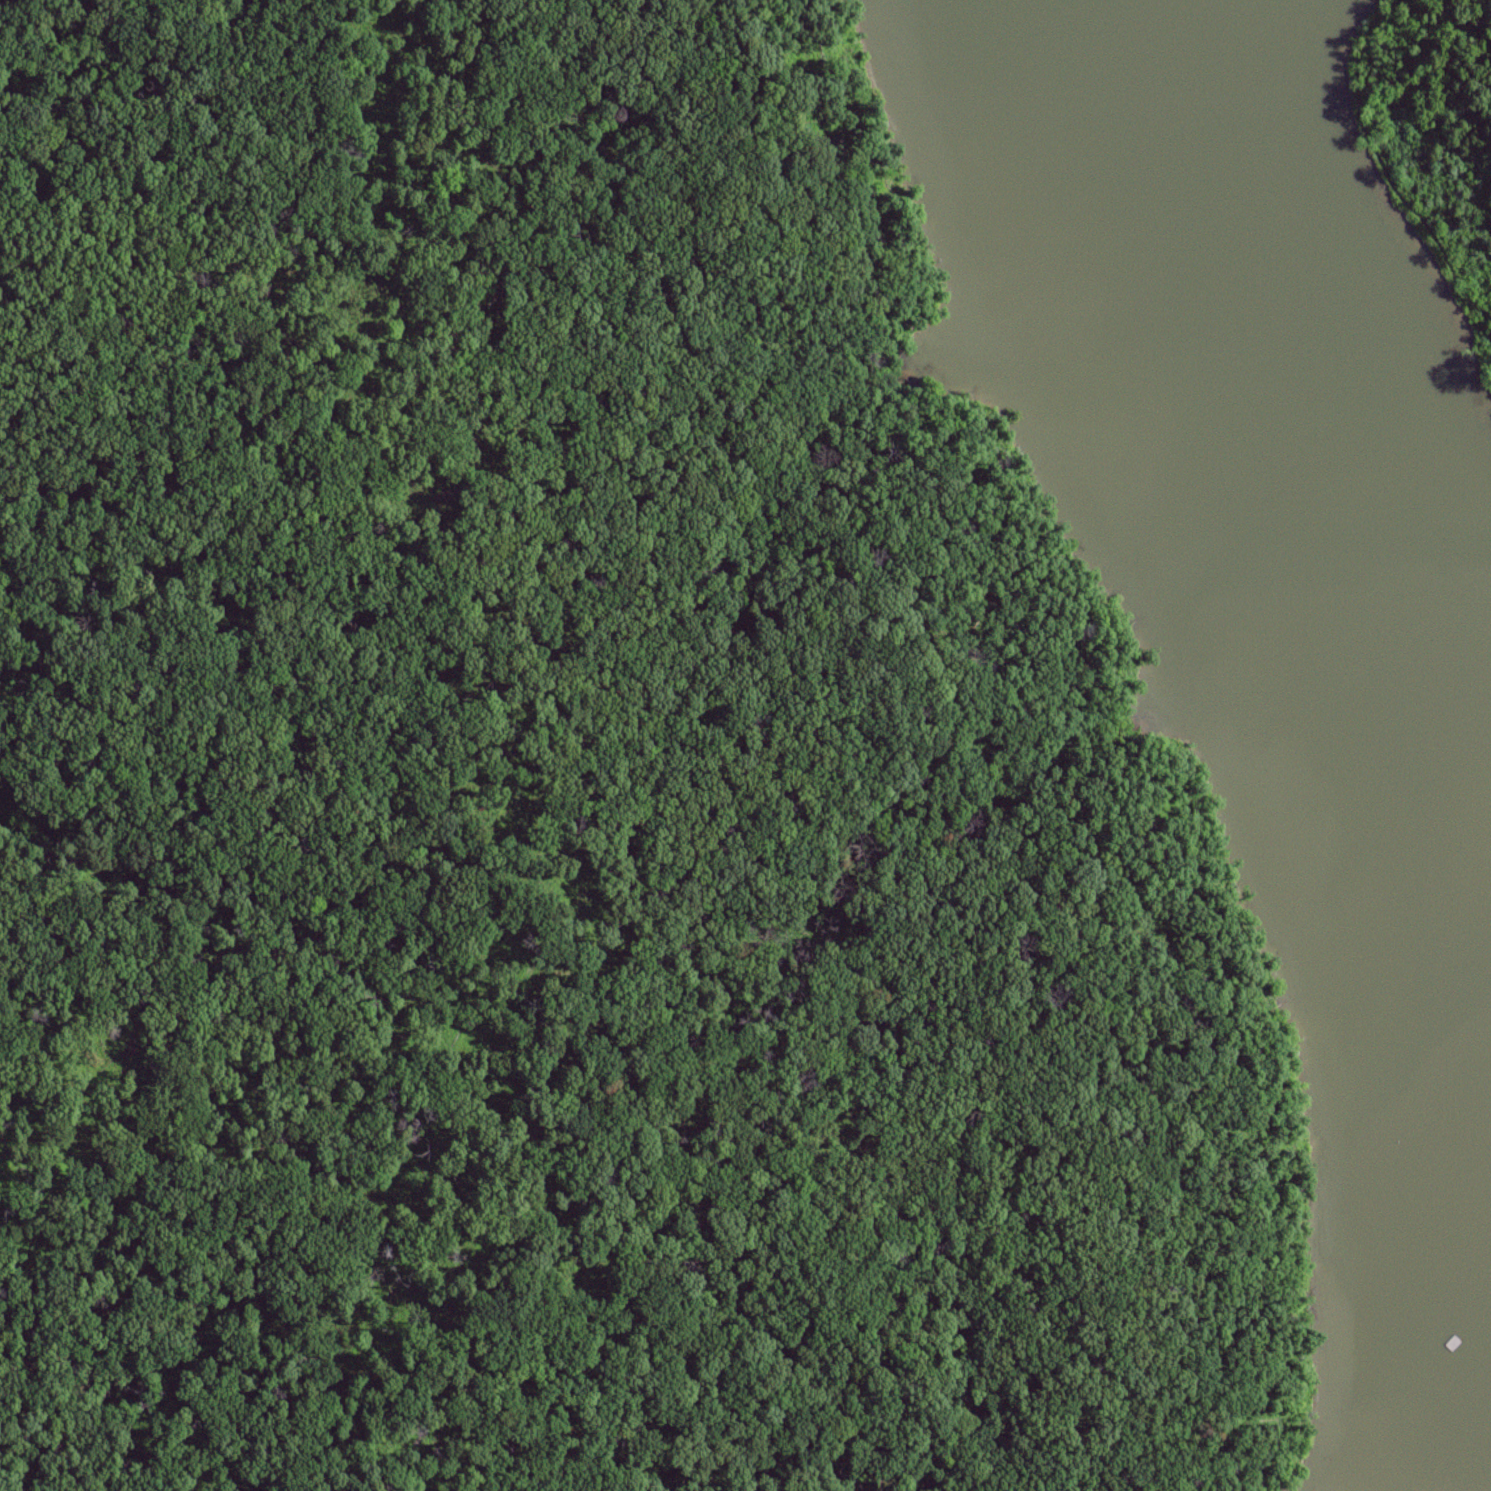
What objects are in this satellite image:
road: (1386, 165)

